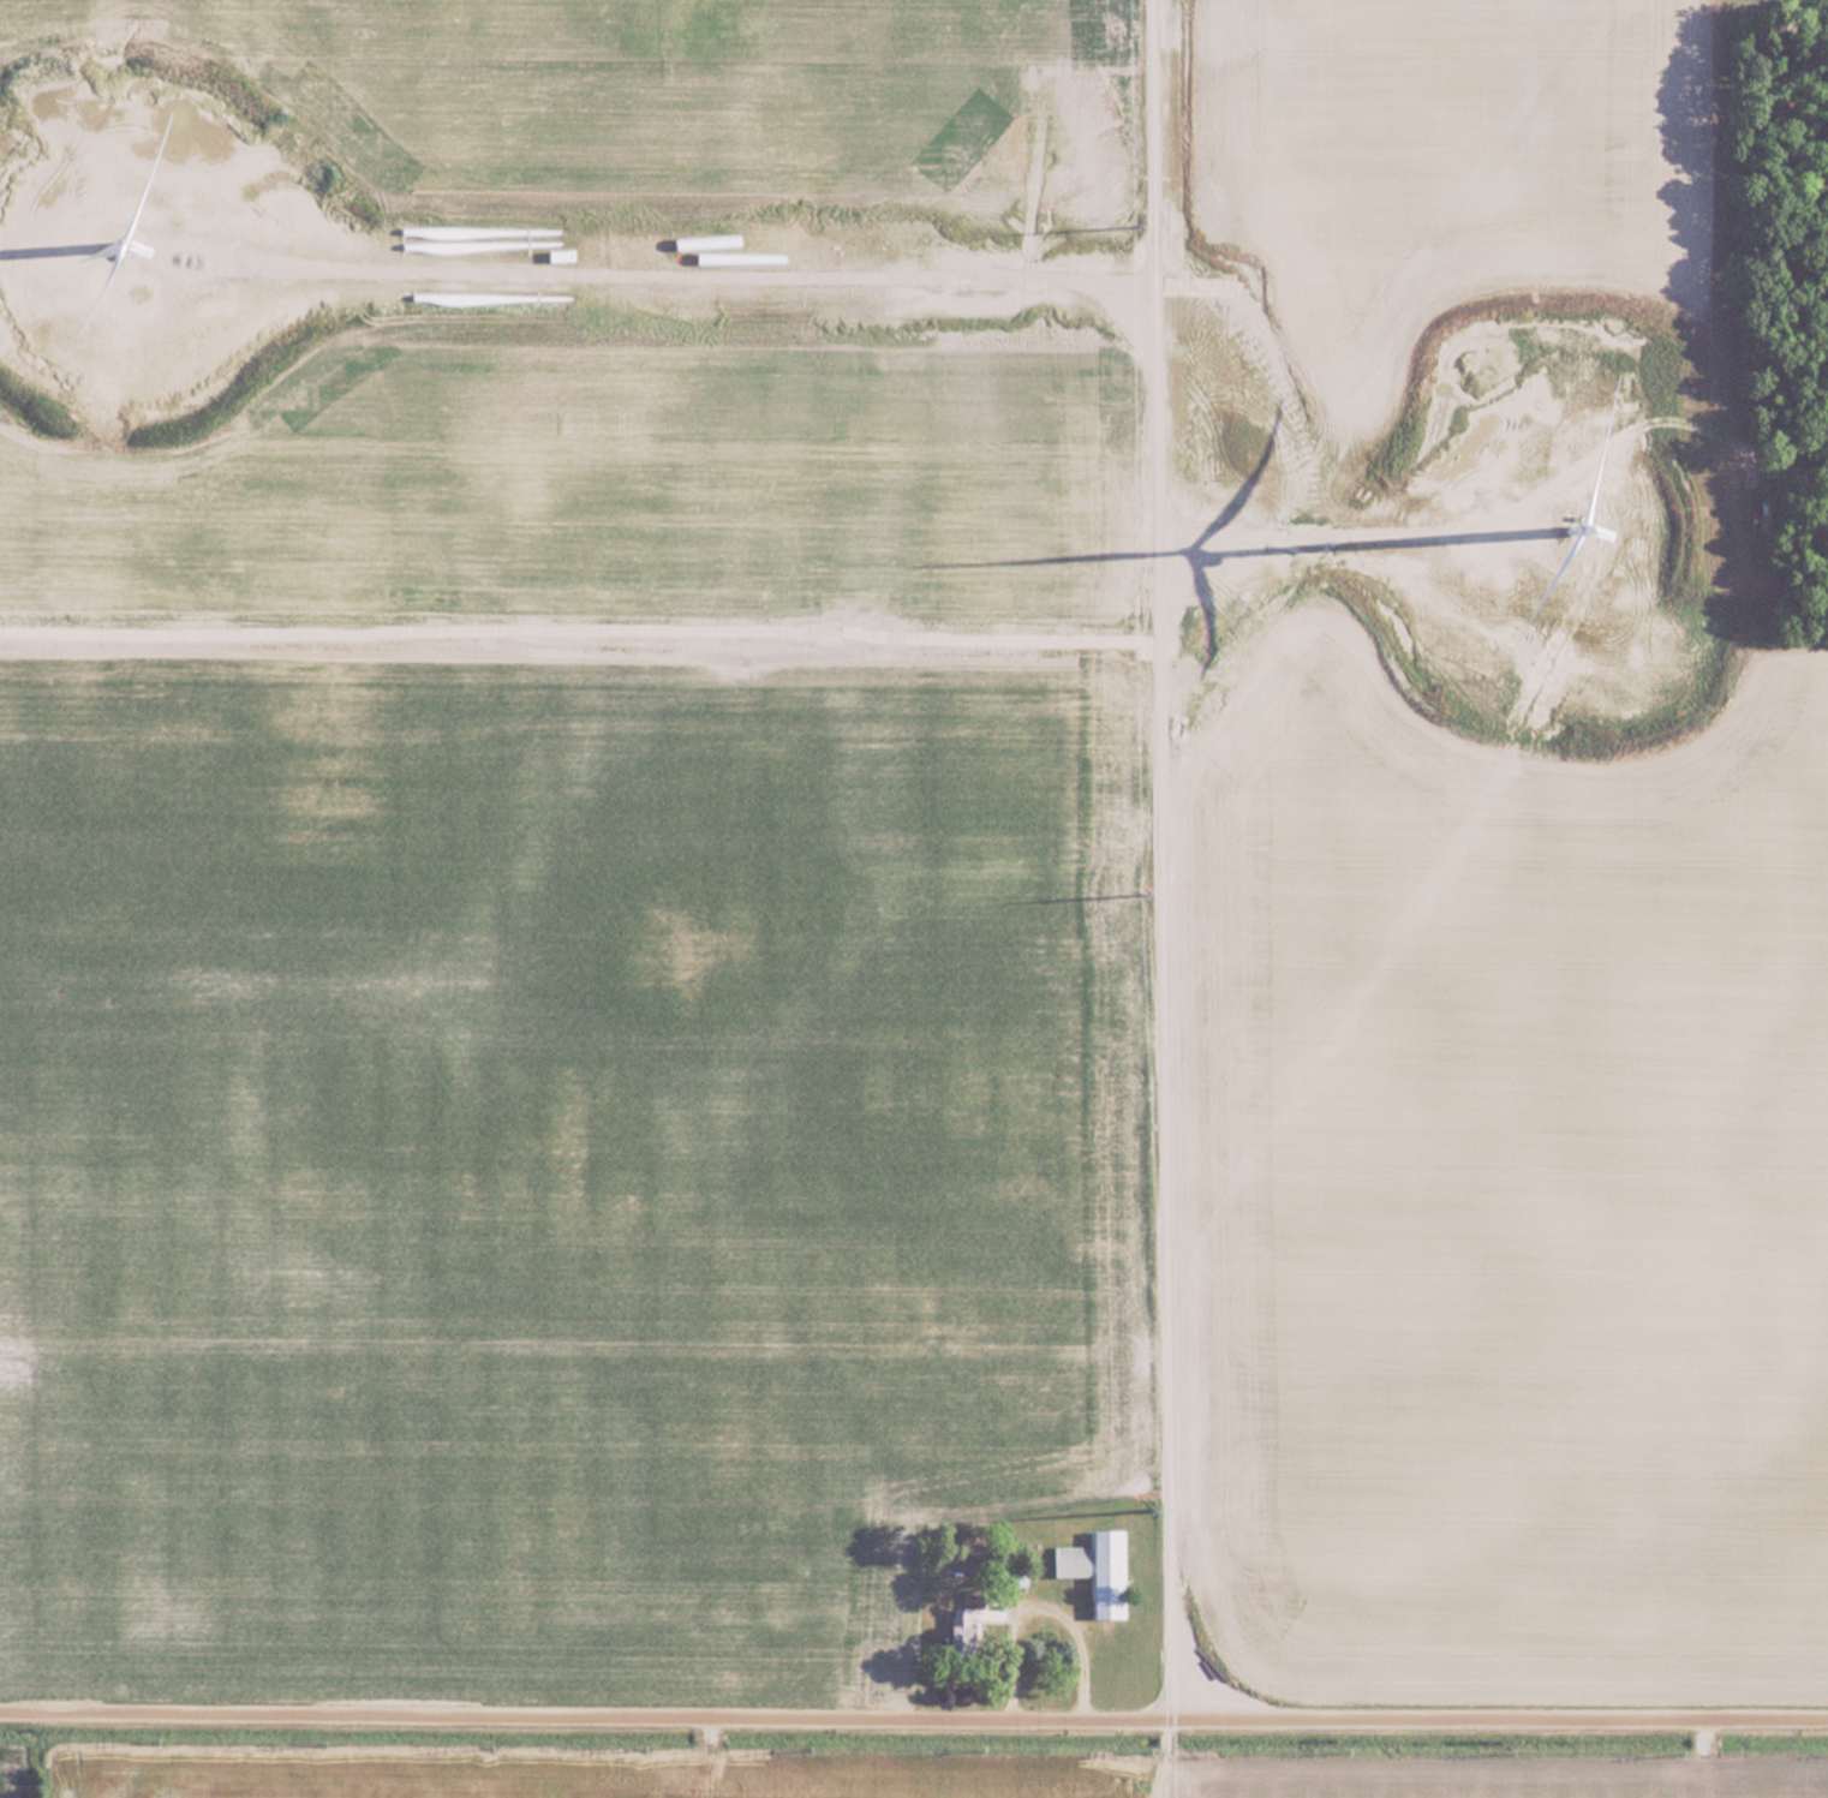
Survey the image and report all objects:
wind turbine: (133, 252)
wind turbine: (1570, 534)
building: (1098, 1569)
building: (964, 1632)
road: (913, 1722)

